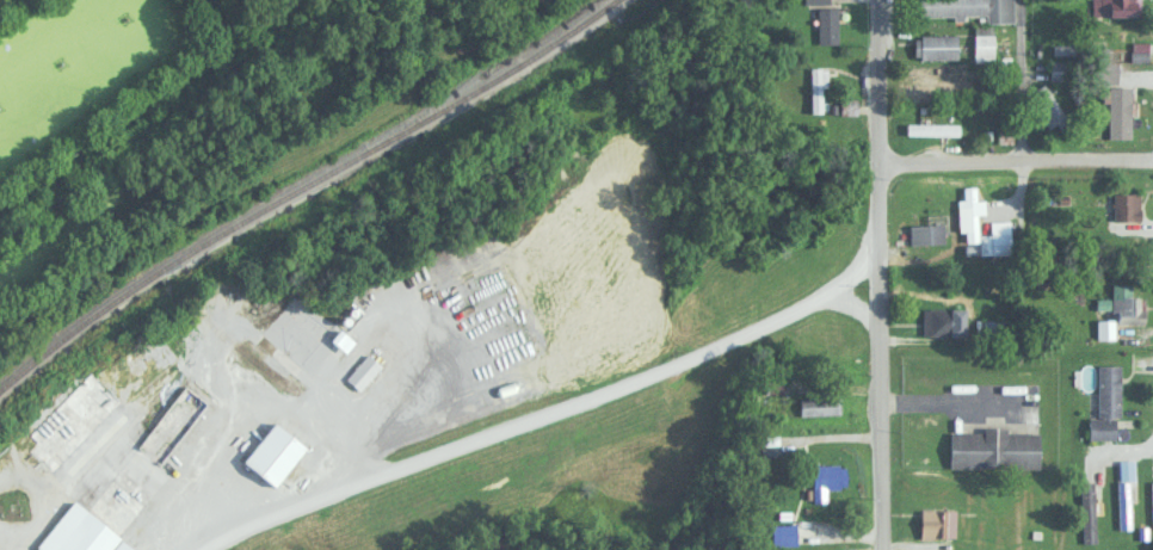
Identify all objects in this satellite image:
building: (815, 0)
building: (969, 8)
building: (1114, 8)
building: (826, 24)
building: (984, 43)
building: (936, 45)
building: (1059, 70)
road: (1017, 80)
road: (876, 81)
building: (921, 81)
building: (816, 87)
building: (1117, 105)
building: (847, 106)
road: (154, 107)
building: (932, 129)
building: (1004, 134)
road: (1015, 161)
railway: (301, 185)
building: (1126, 205)
building: (999, 224)
building: (926, 233)
building: (489, 254)
road: (851, 267)
building: (943, 320)
road: (875, 356)
building: (363, 370)
building: (1105, 403)
building: (819, 404)
road: (541, 413)
building: (72, 419)
building: (172, 421)
building: (993, 447)
building: (275, 452)
building: (827, 477)
building: (95, 521)
building: (937, 521)
building: (783, 533)

